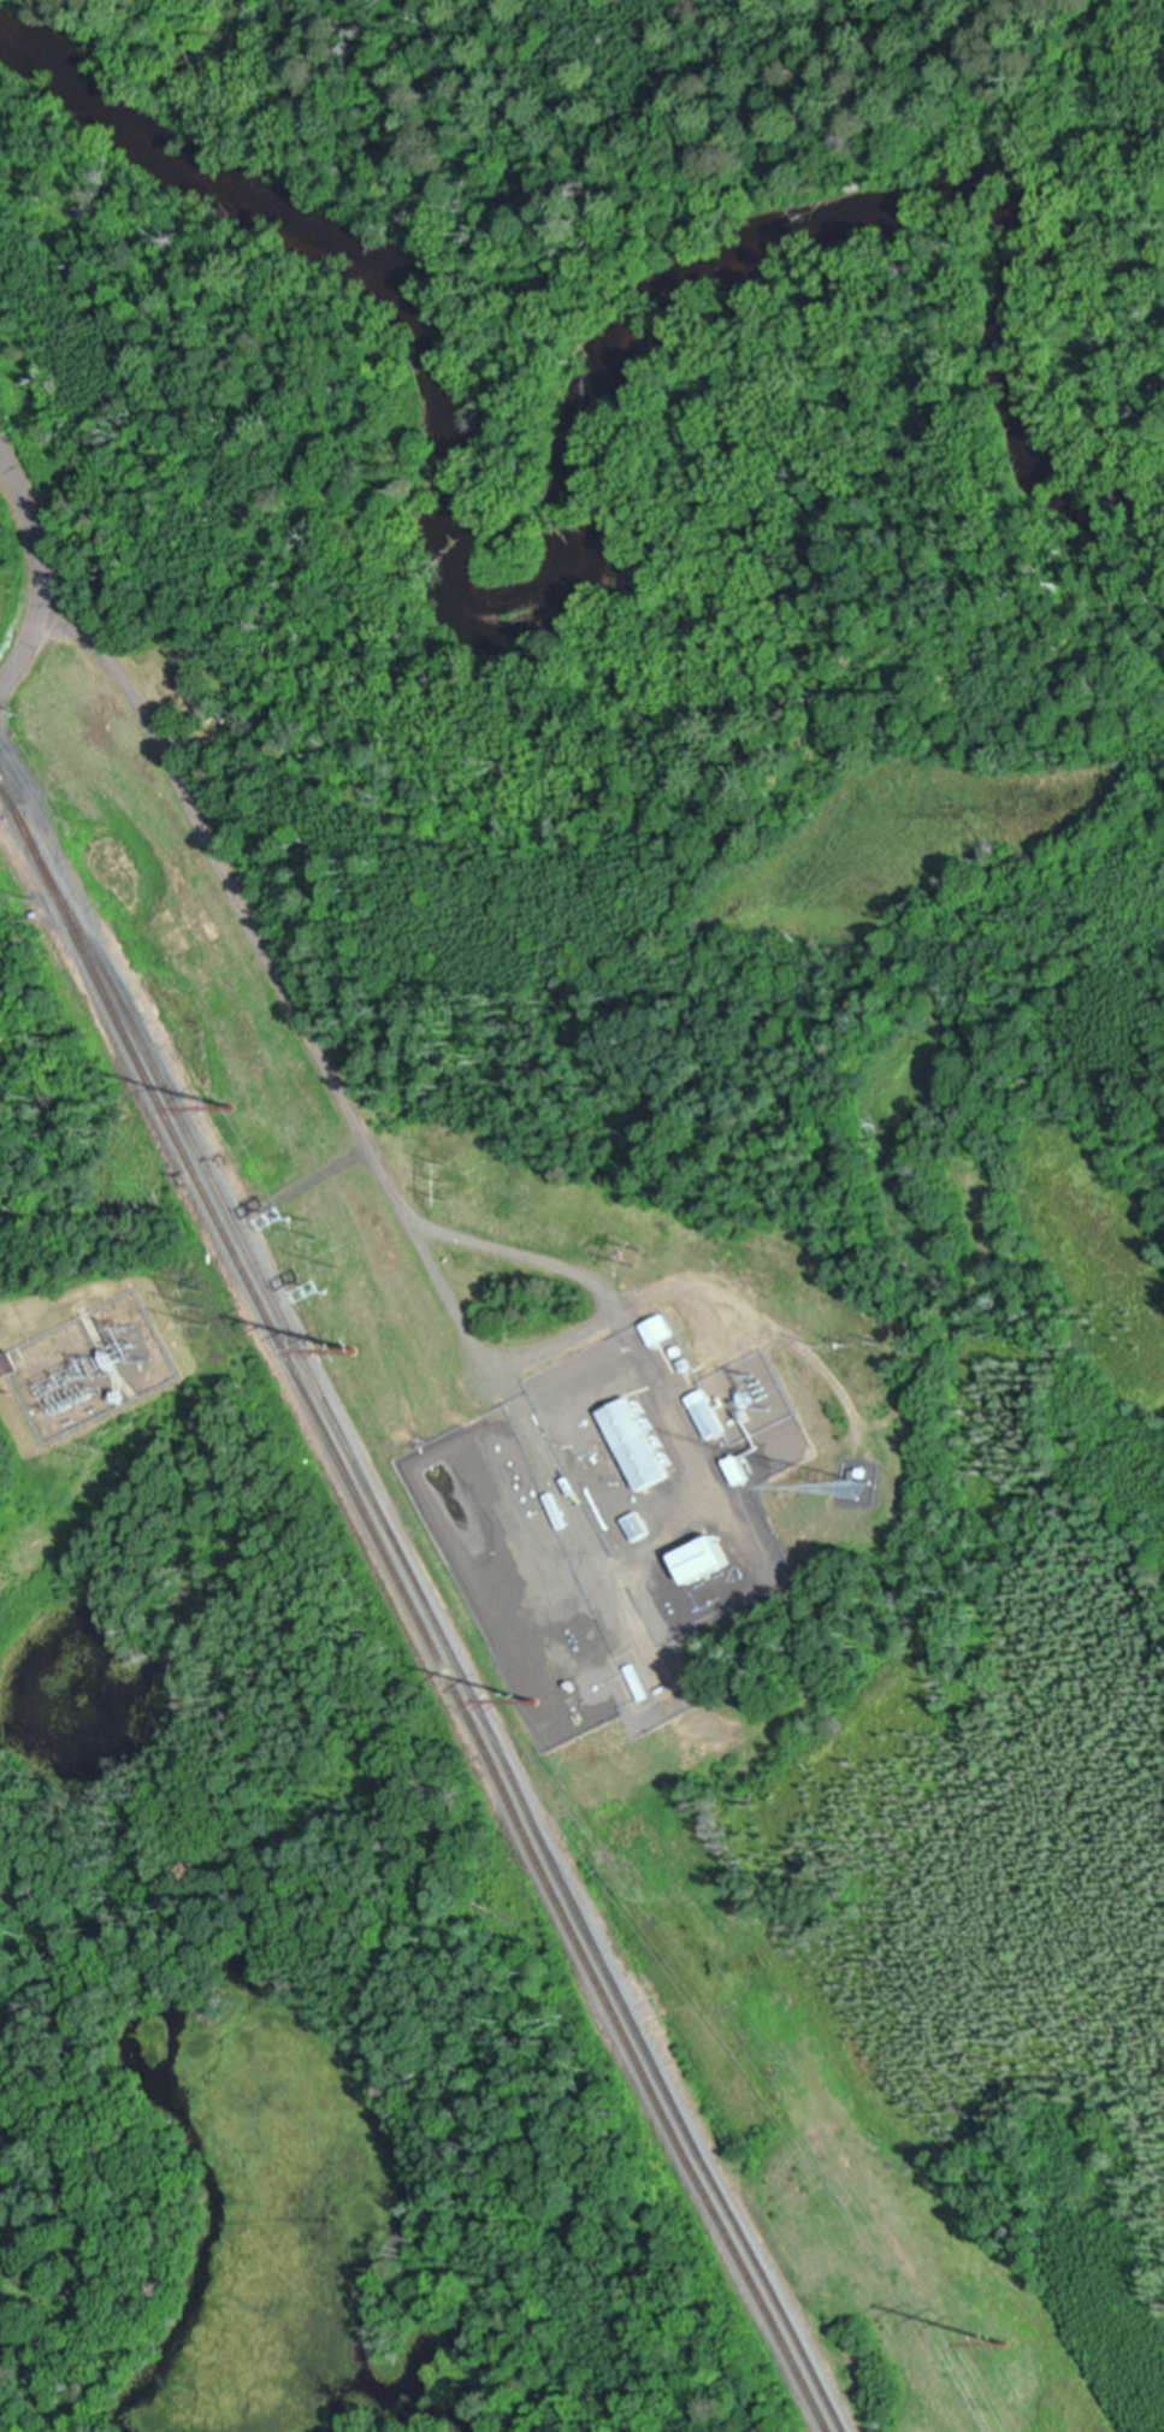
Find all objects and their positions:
river: (589, 484)
road: (36, 571)
road: (317, 1055)
power tower: (230, 1109)
power tower: (451, 1187)
power tower: (283, 1217)
power tower: (327, 1251)
power tower: (642, 1263)
power tower: (323, 1291)
power tower: (209, 1311)
building: (660, 1333)
power tower: (857, 1348)
power tower: (351, 1353)
building: (6, 1366)
power substation: (88, 1368)
power substation: (746, 1399)
building: (707, 1418)
building: (636, 1448)
building: (636, 1529)
building: (704, 1564)
railway: (409, 1610)
railway: (433, 1621)
power tower: (537, 1704)
power tower: (1011, 2347)

